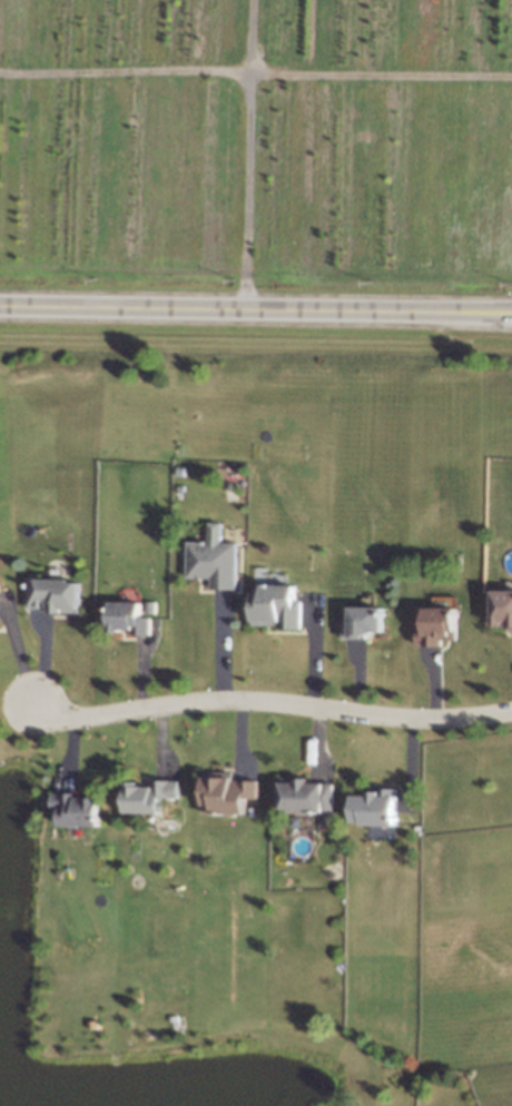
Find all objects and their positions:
crop: (257, 130)
road: (256, 309)
building: (215, 563)
building: (55, 595)
building: (2, 608)
building: (279, 608)
building: (505, 610)
building: (135, 618)
building: (368, 621)
building: (443, 623)
road: (270, 701)
building: (228, 792)
building: (156, 794)
building: (305, 796)
building: (384, 808)
building: (81, 809)

